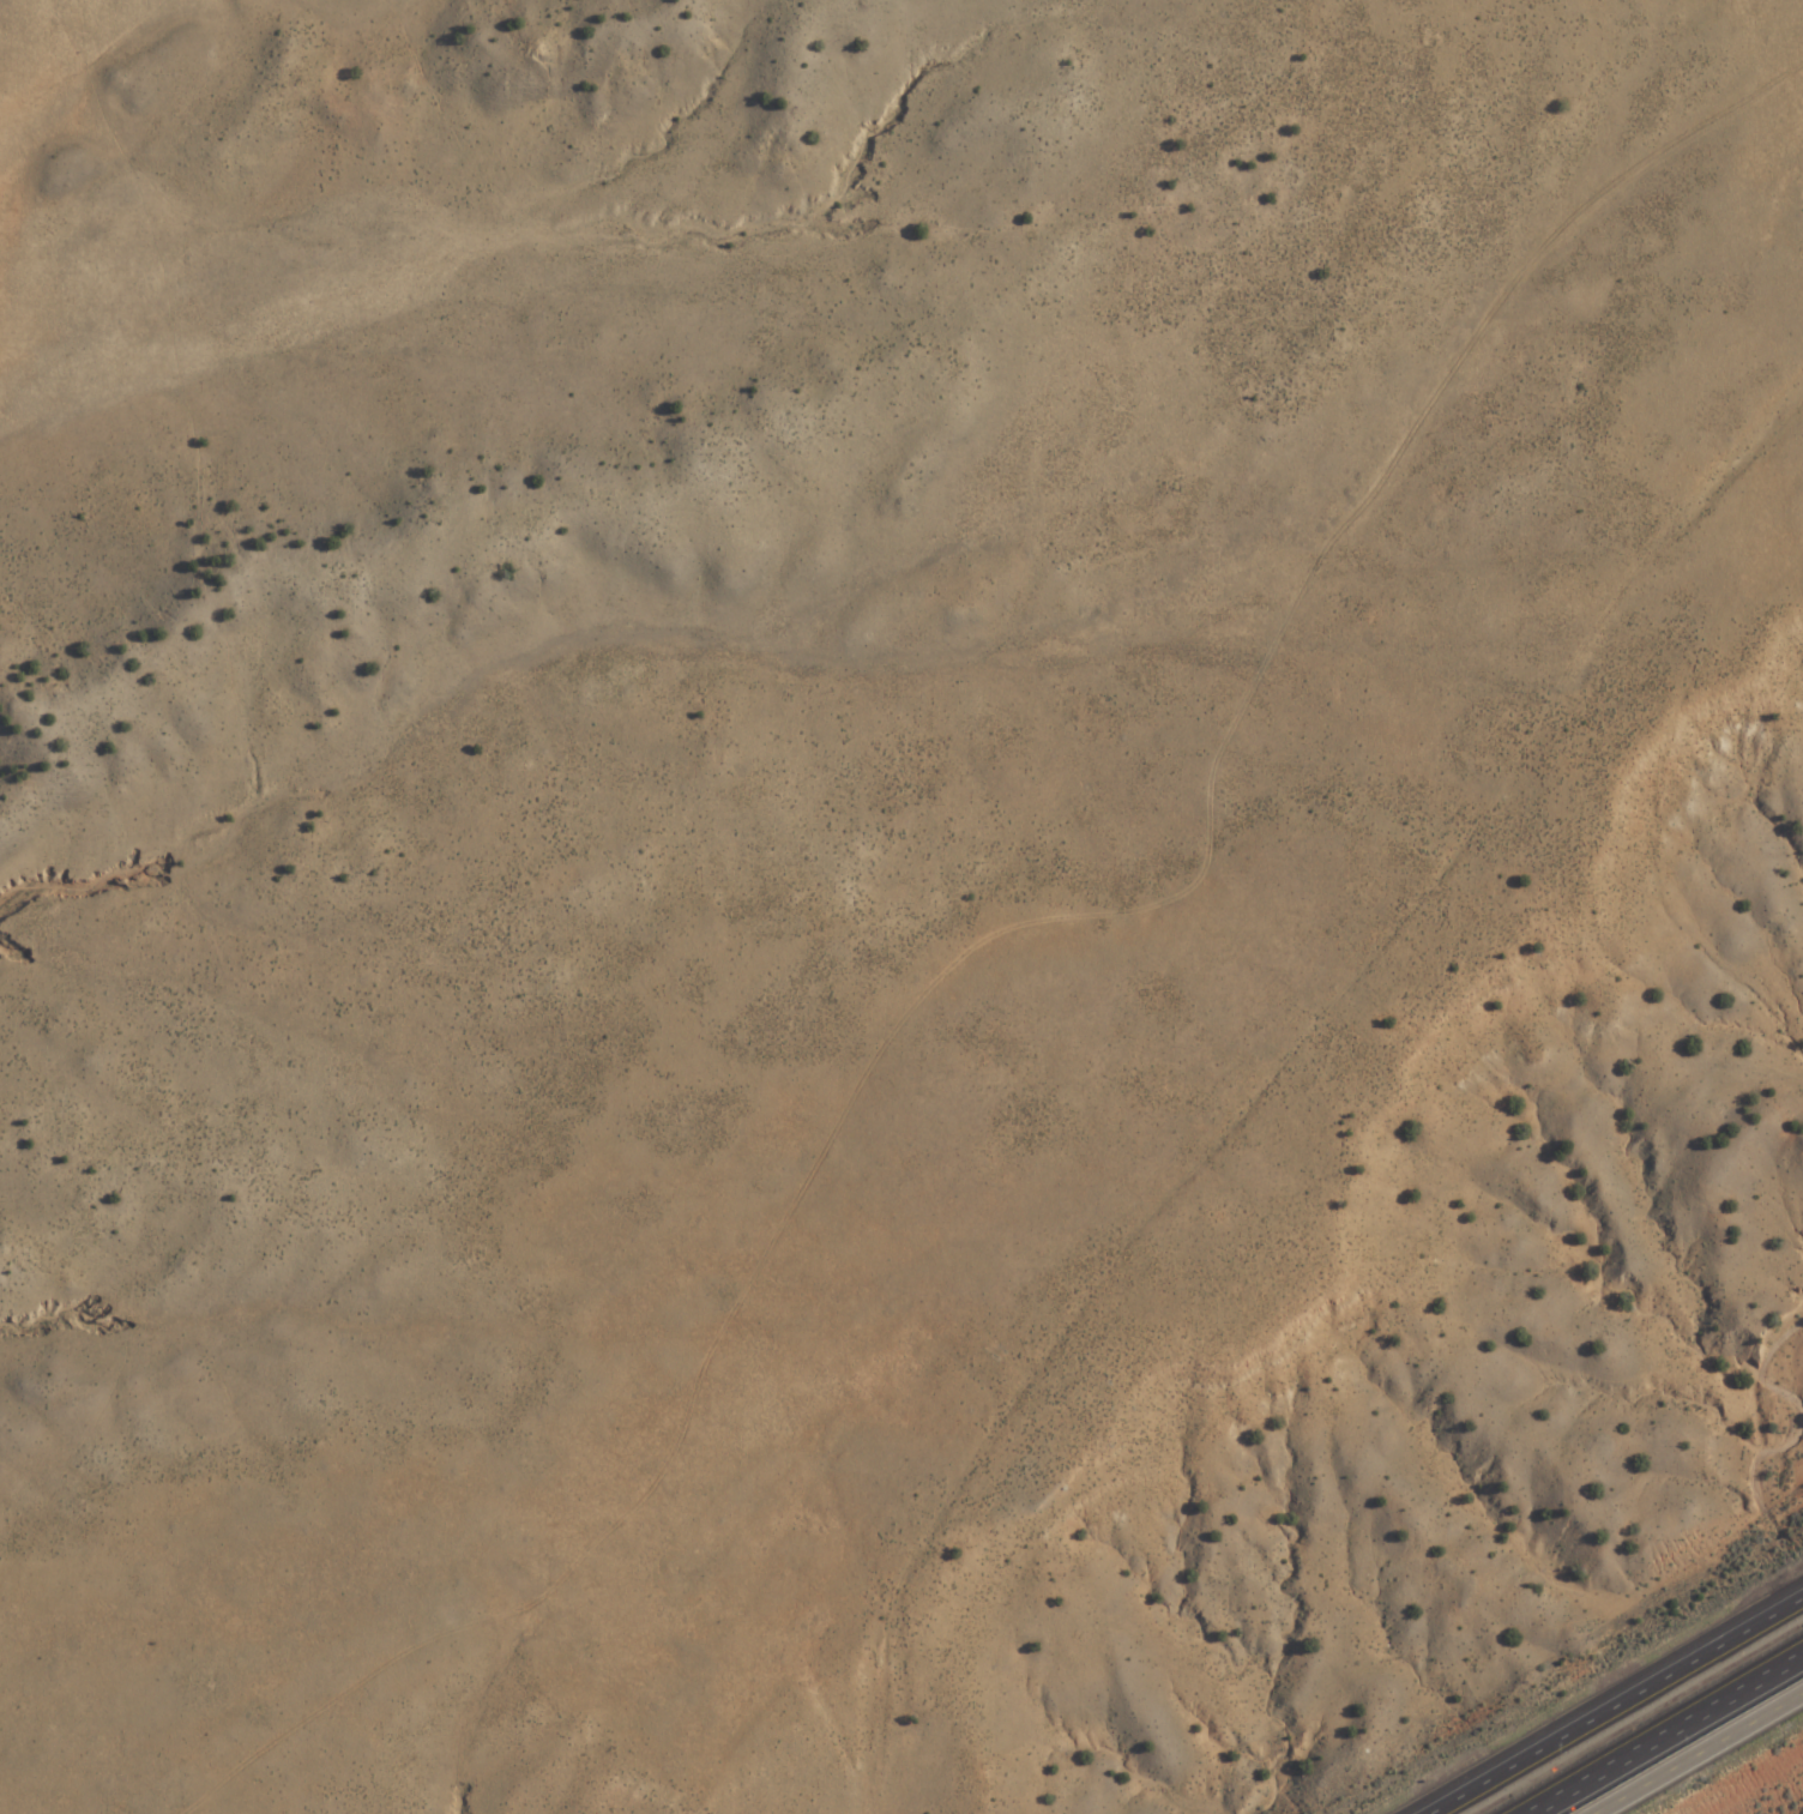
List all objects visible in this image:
road: (1623, 1710)
road: (1670, 1736)
road: (1700, 1754)

